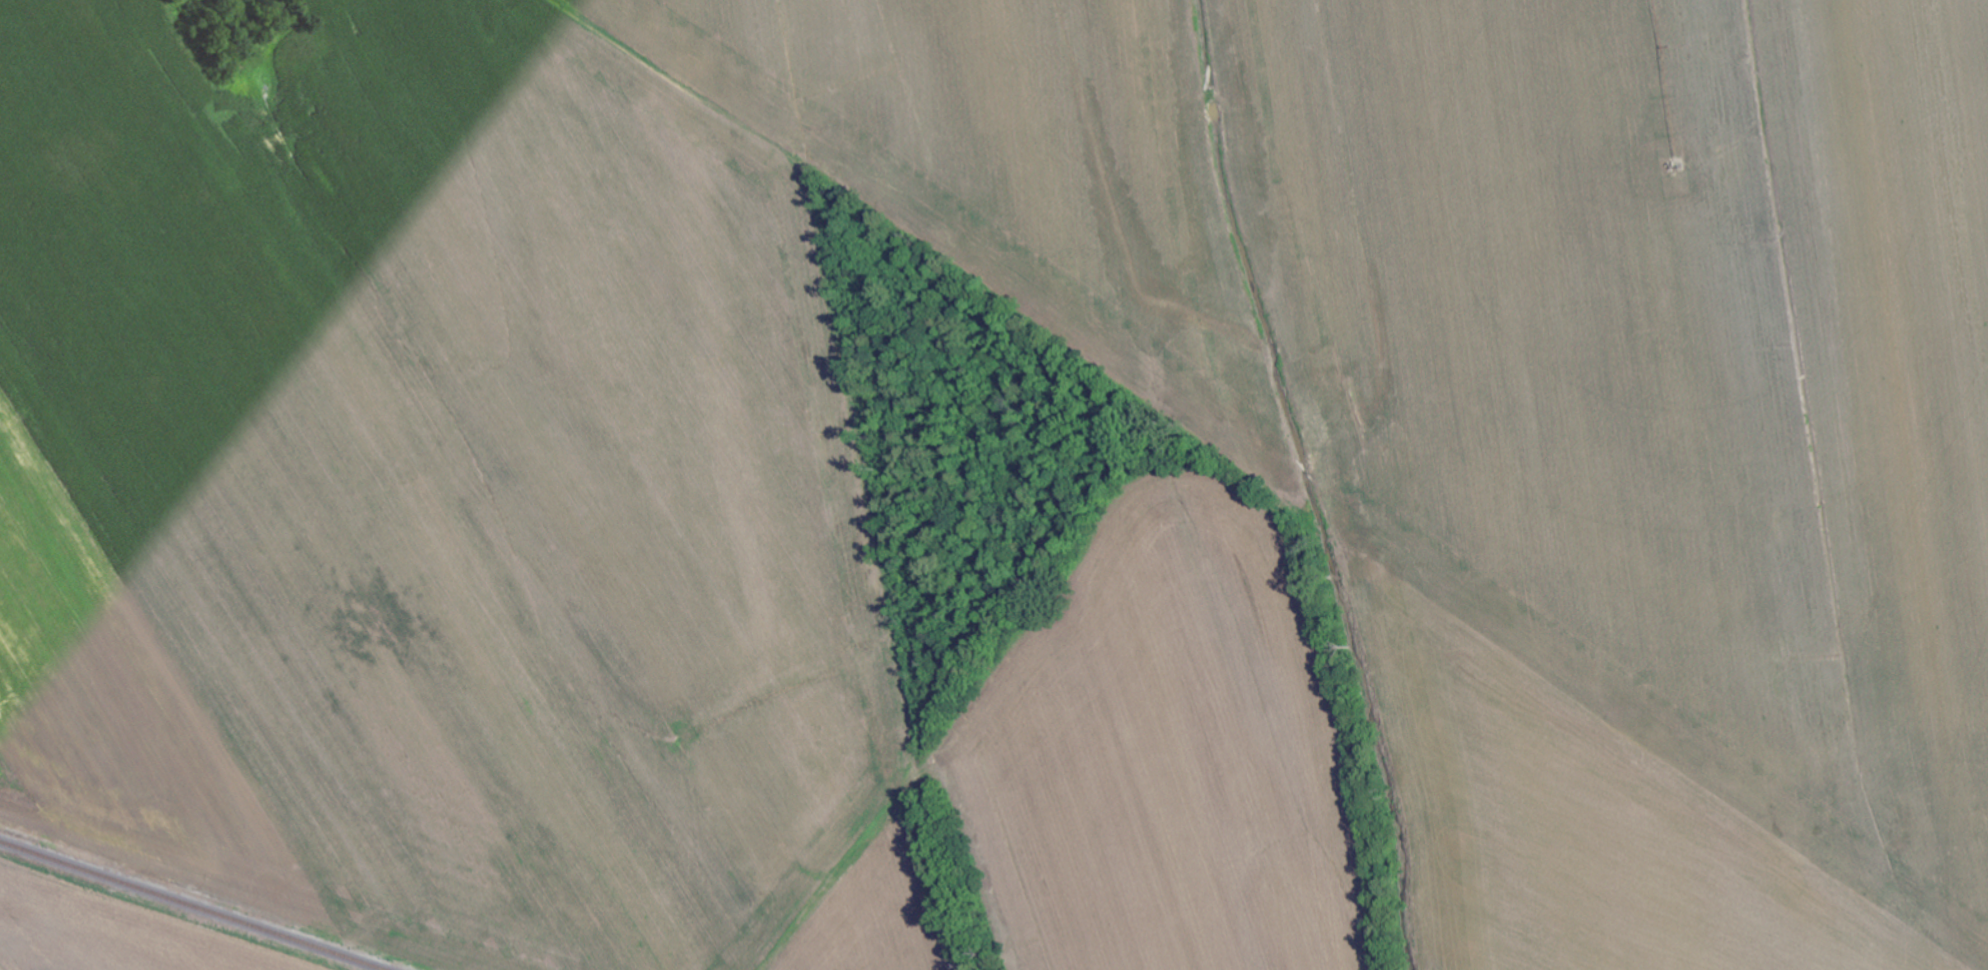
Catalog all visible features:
railway: (189, 906)

